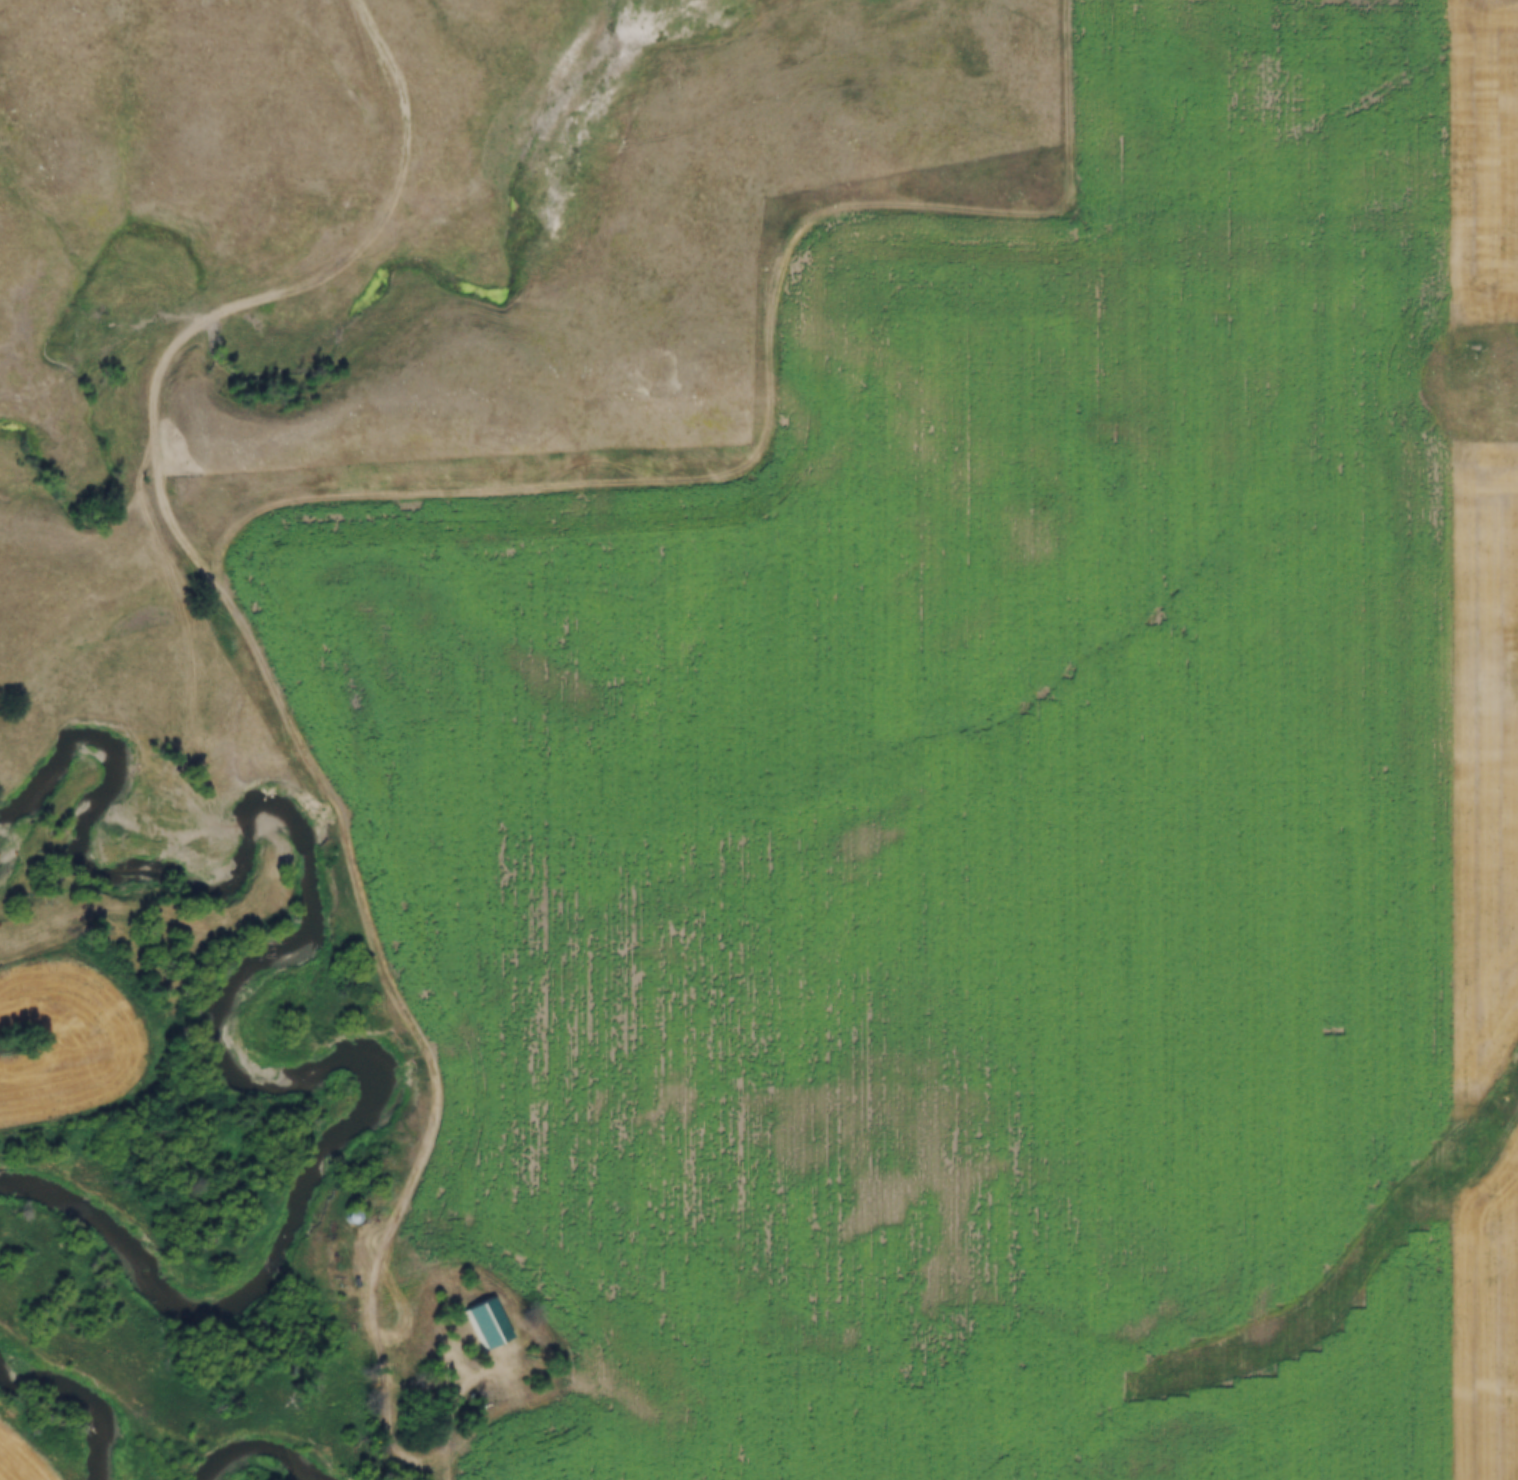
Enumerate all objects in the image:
road: (273, 674)
building: (490, 1324)

